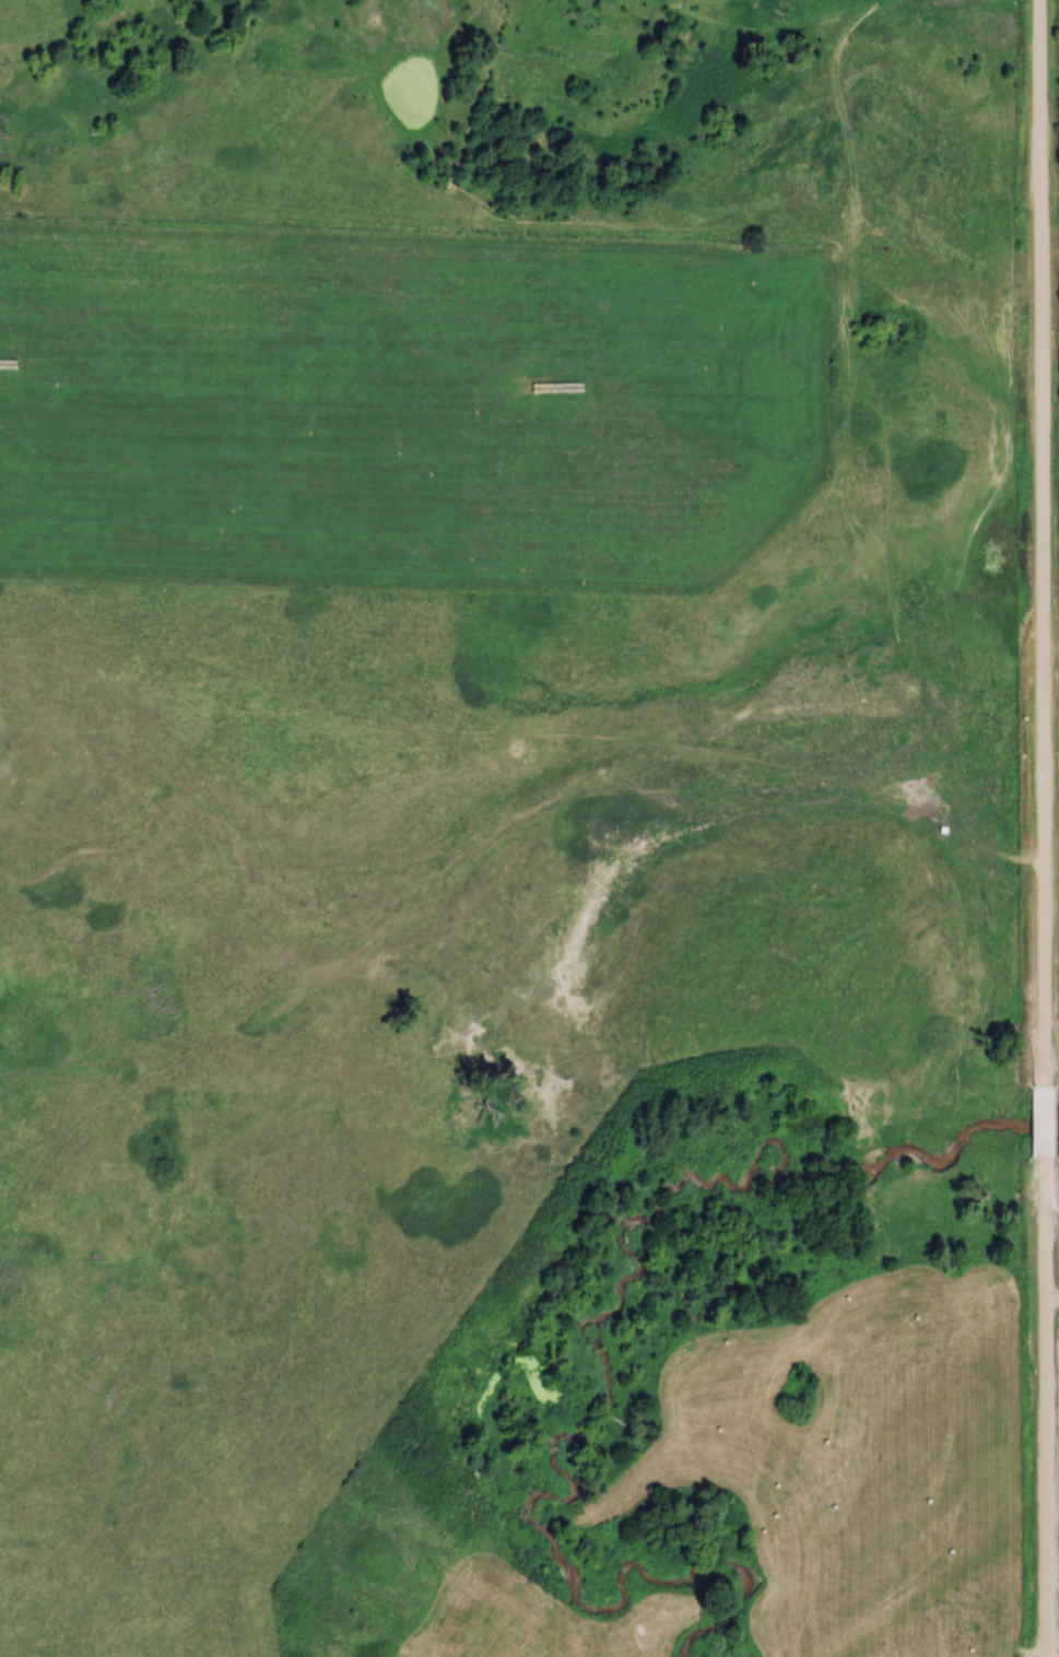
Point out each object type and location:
road: (1042, 542)
road: (1046, 1120)
road: (1047, 1406)

